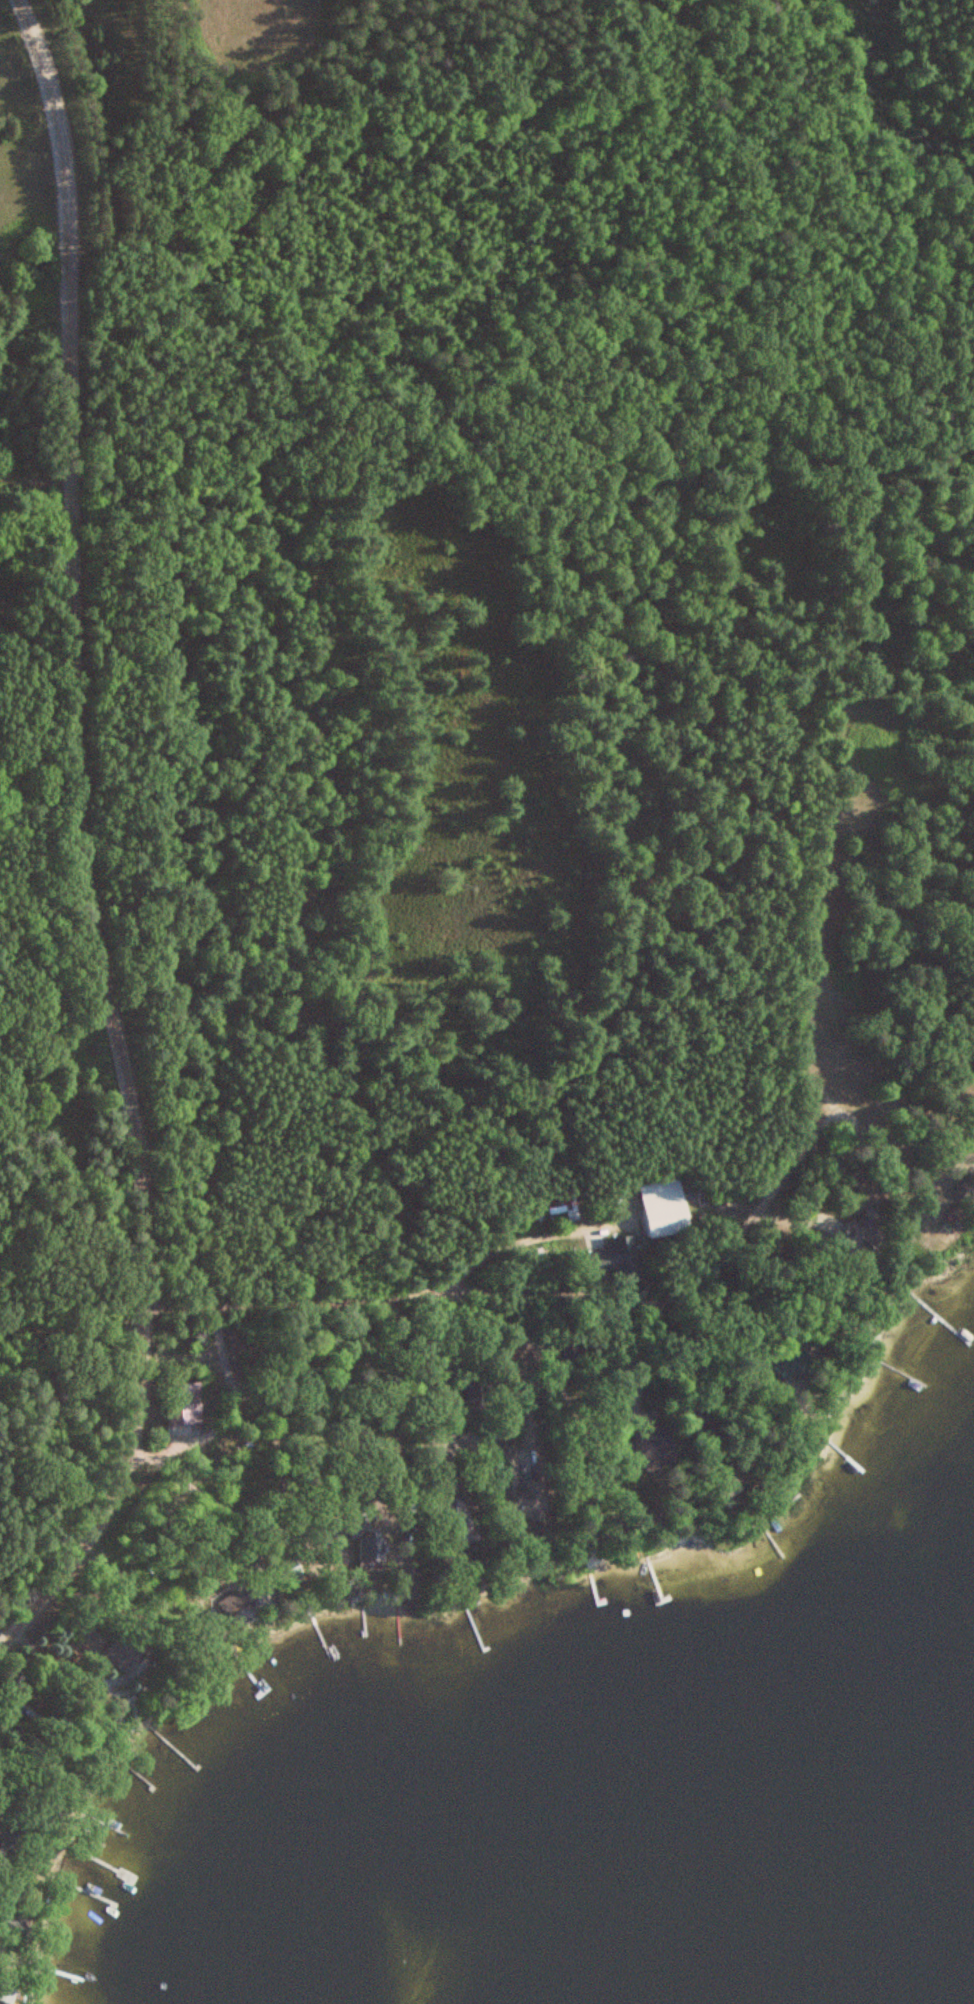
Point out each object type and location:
road: (80, 850)
building: (966, 1185)
building: (666, 1207)
building: (863, 1232)
building: (616, 1255)
road: (297, 1303)
building: (571, 1347)
road: (538, 1353)
road: (445, 1365)
road: (530, 1390)
building: (478, 1397)
building: (187, 1403)
road: (208, 1434)
building: (658, 1444)
building: (522, 1489)
building: (724, 1489)
road: (215, 1500)
building: (462, 1522)
building: (126, 1649)
building: (15, 1679)
building: (64, 1722)
building: (1, 1944)

